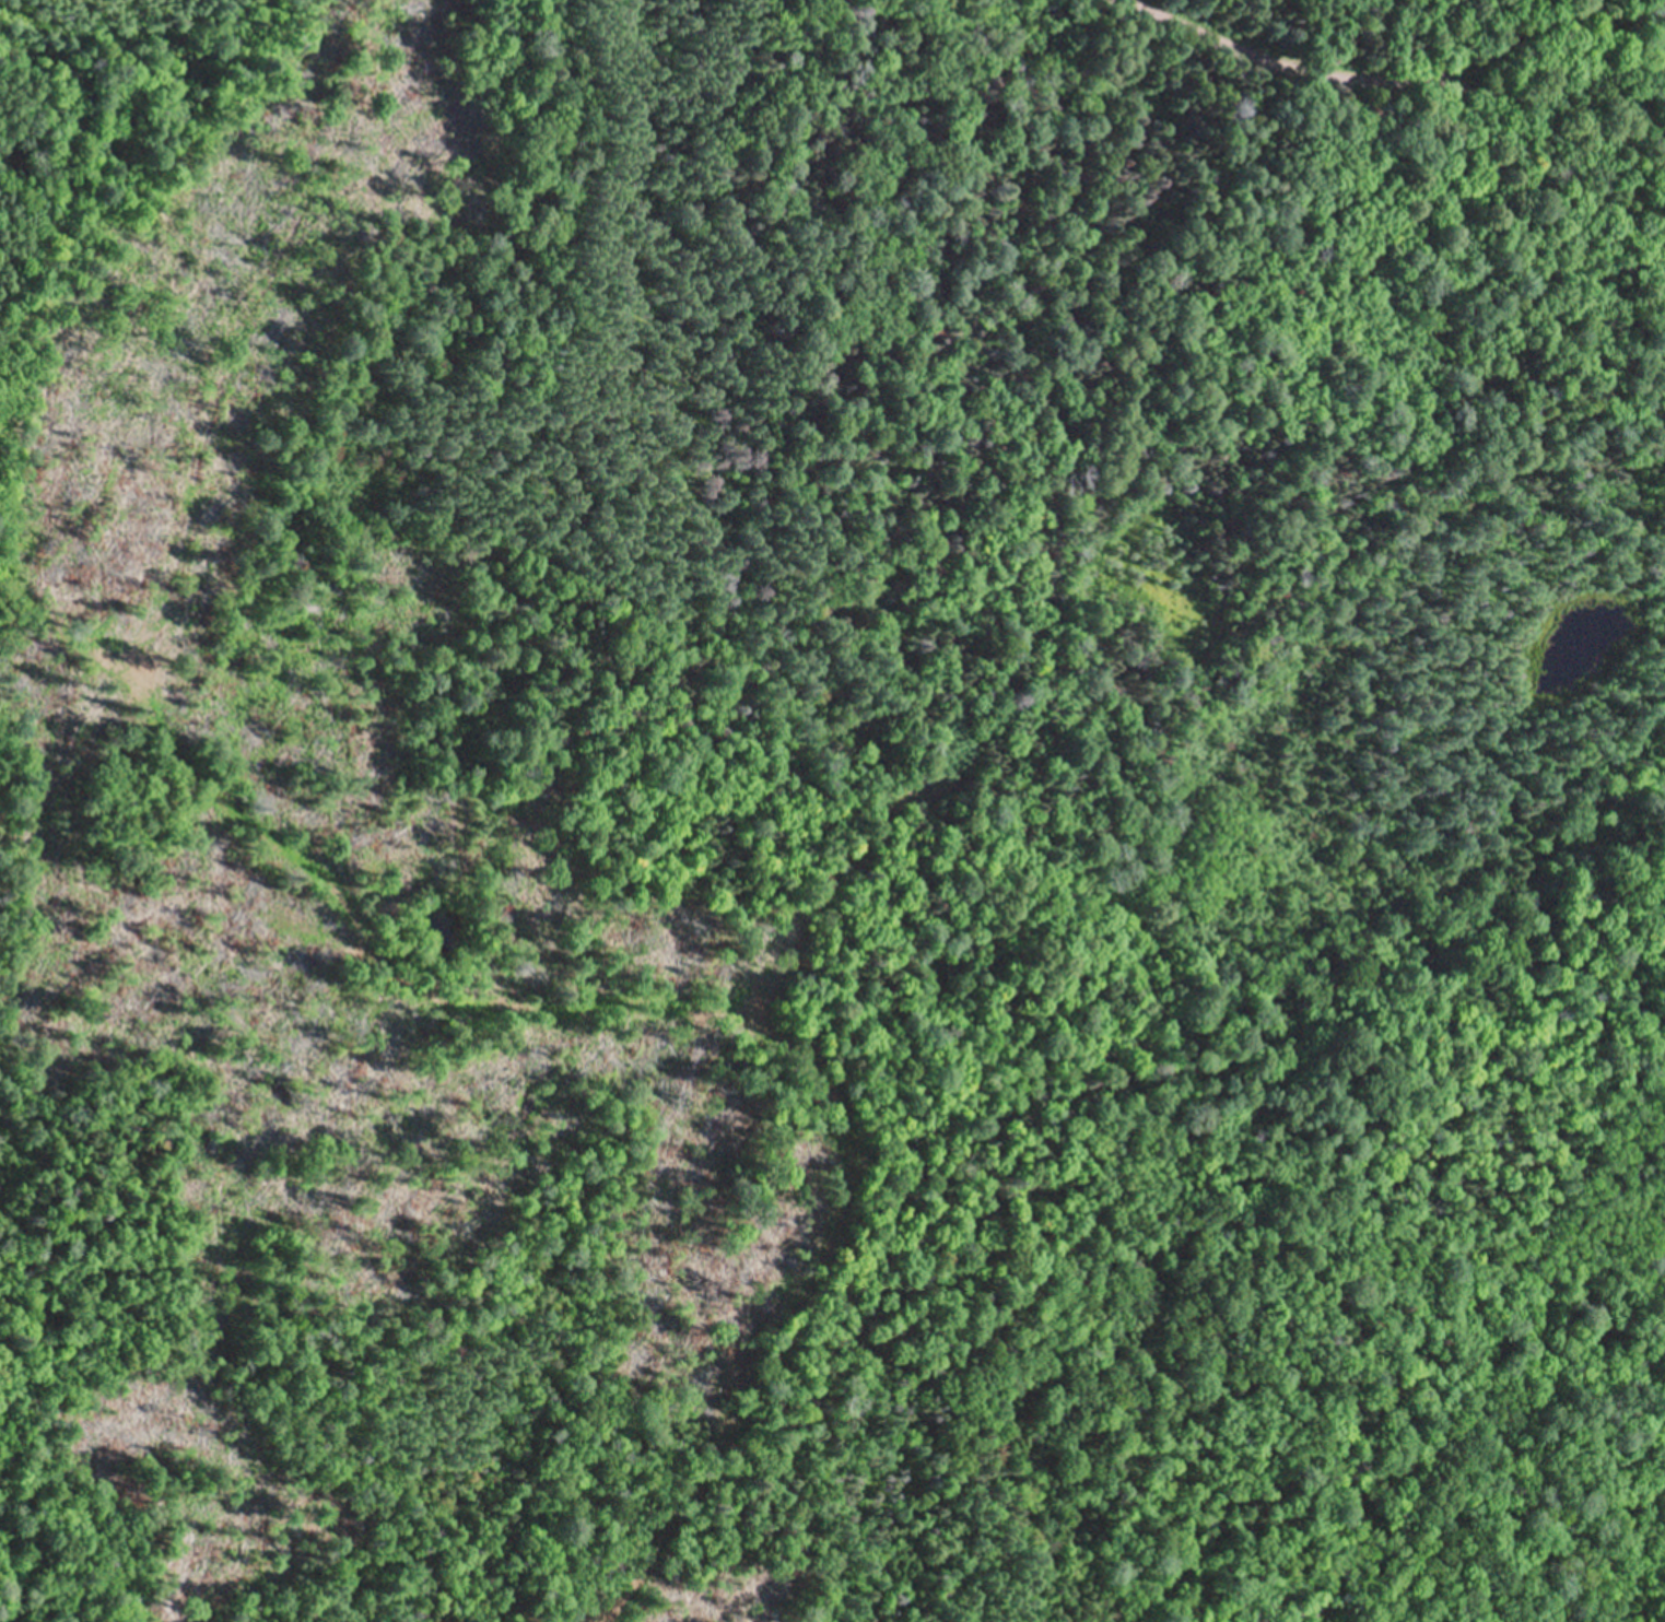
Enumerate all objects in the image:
road: (1660, 21)
road: (1406, 61)

